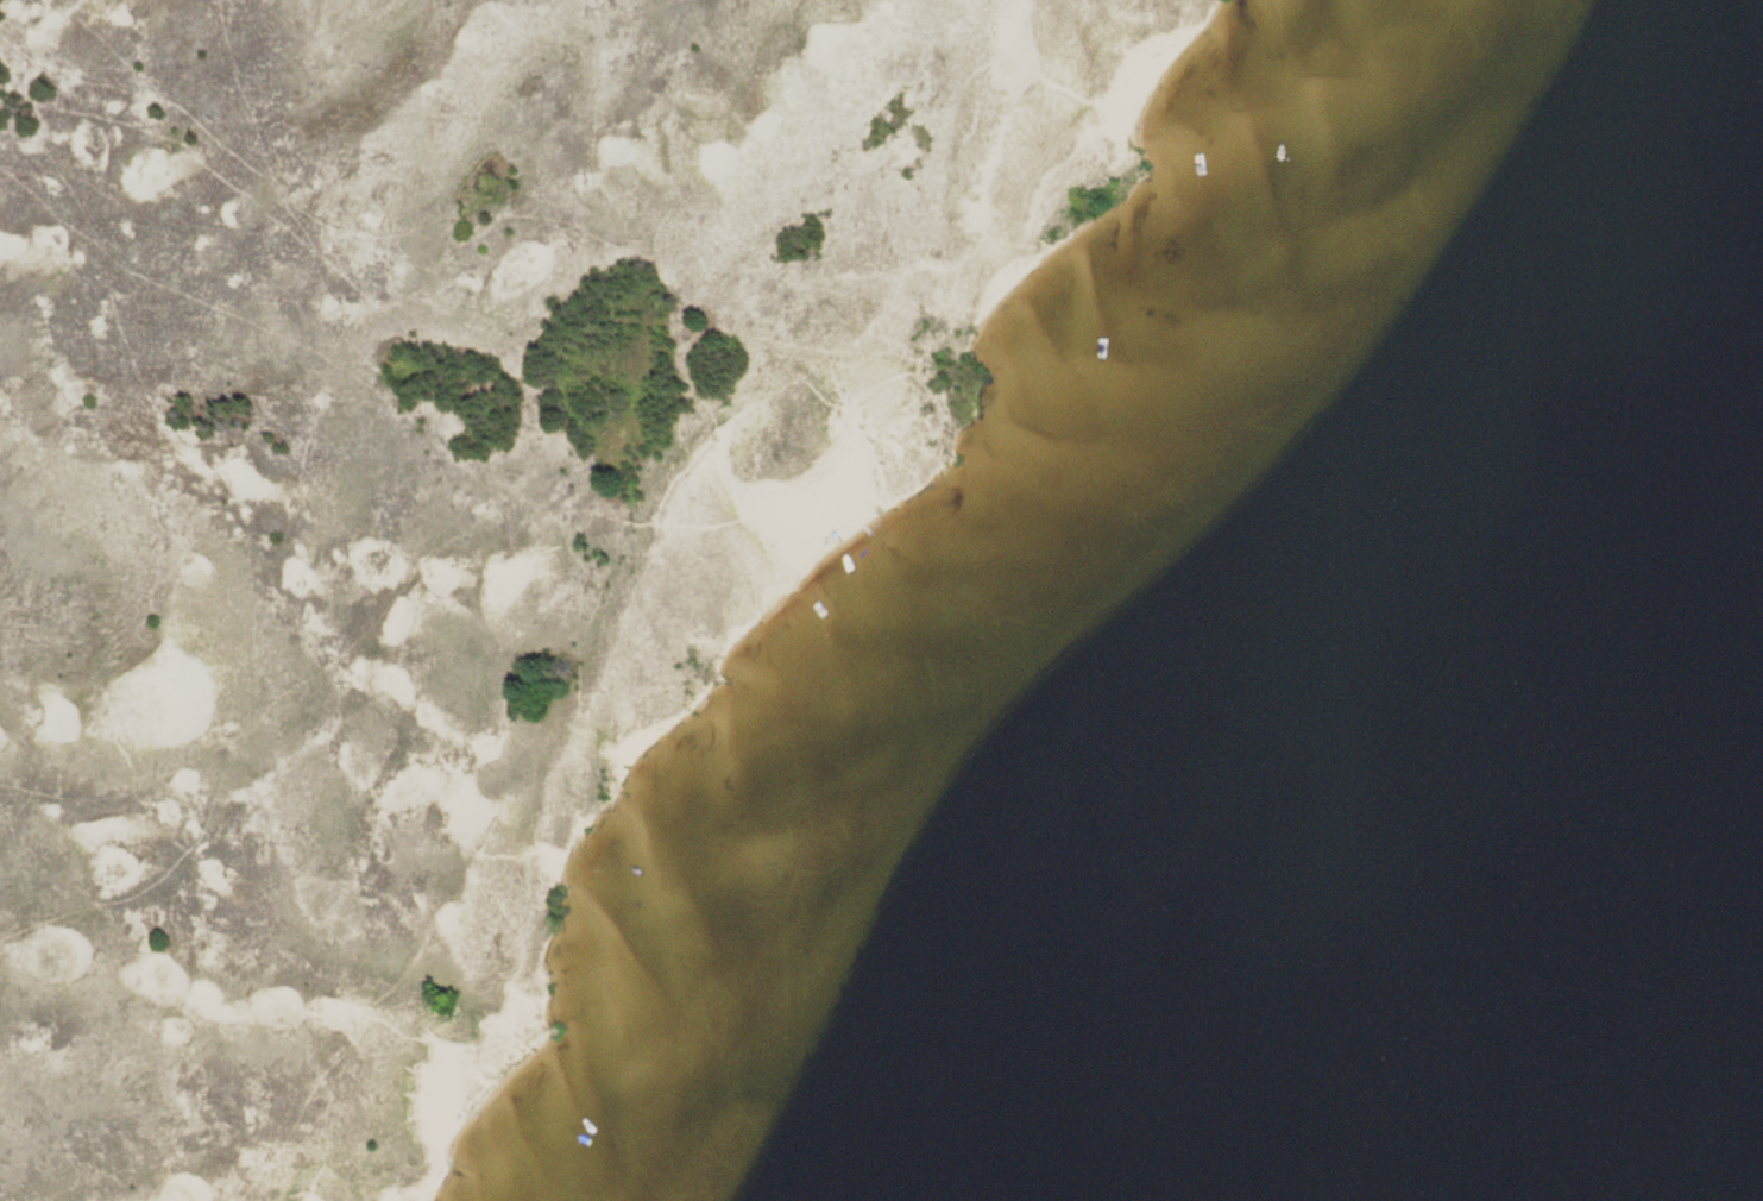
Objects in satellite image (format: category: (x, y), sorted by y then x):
park: (454, 497)

